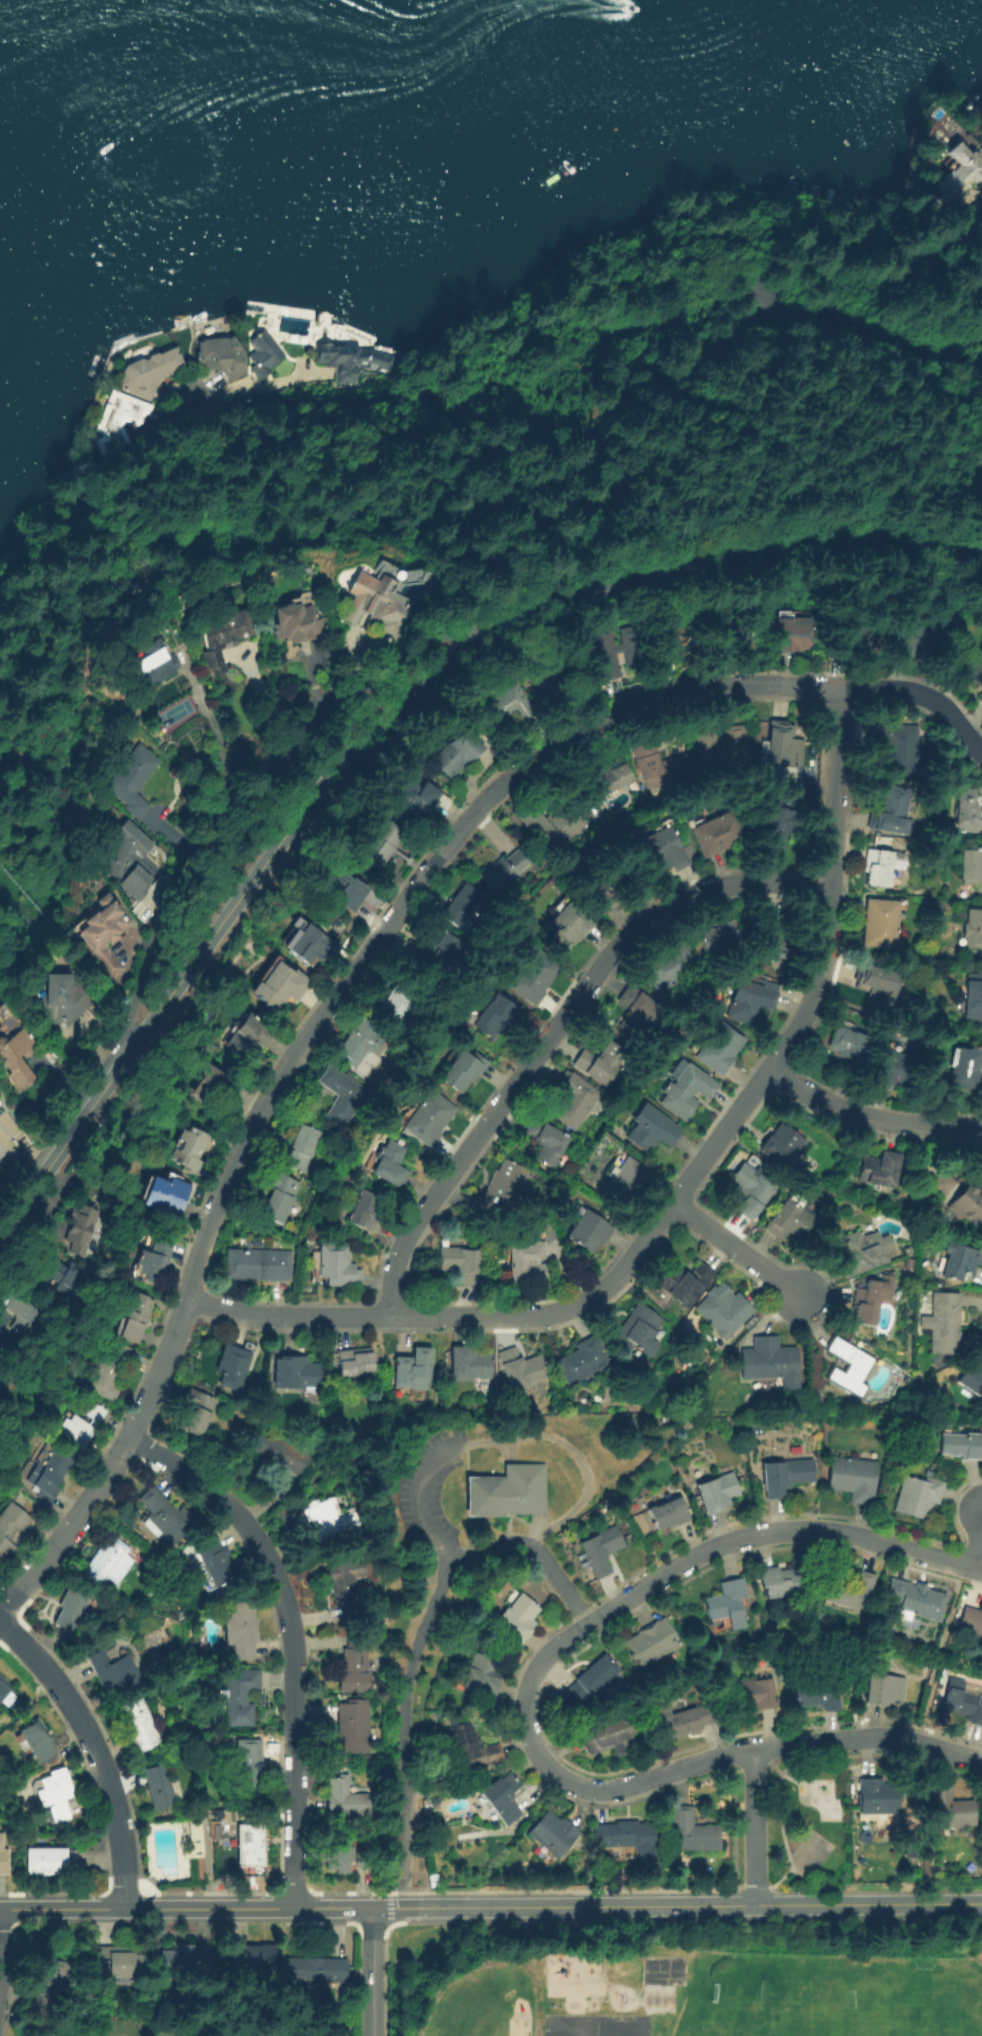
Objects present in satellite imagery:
building: (957, 177)
building: (275, 352)
building: (220, 356)
building: (353, 360)
road: (592, 363)
building: (149, 372)
park: (706, 391)
building: (121, 423)
building: (377, 604)
building: (295, 623)
building: (224, 633)
building: (793, 634)
building: (731, 635)
building: (668, 637)
building: (850, 640)
building: (910, 642)
building: (615, 652)
building: (151, 664)
building: (975, 669)
building: (550, 678)
road: (922, 695)
building: (980, 698)
road: (269, 704)
building: (509, 708)
park: (176, 715)
road: (384, 717)
building: (917, 719)
road: (211, 730)
building: (783, 745)
building: (721, 747)
building: (897, 748)
building: (458, 754)
building: (660, 766)
building: (608, 778)
building: (131, 780)
road: (838, 784)
road: (244, 790)
building: (415, 798)
building: (643, 805)
building: (890, 810)
building: (966, 813)
building: (553, 826)
building: (778, 827)
building: (718, 834)
building: (382, 845)
building: (664, 850)
building: (129, 857)
building: (970, 866)
building: (878, 868)
building: (503, 871)
building: (344, 889)
building: (604, 892)
building: (462, 904)
building: (880, 924)
building: (569, 925)
building: (973, 929)
building: (101, 937)
building: (718, 937)
building: (768, 937)
building: (62, 939)
road: (379, 940)
building: (305, 945)
building: (436, 956)
building: (669, 968)
building: (755, 970)
building: (534, 976)
building: (877, 985)
building: (279, 987)
building: (973, 997)
building: (59, 998)
building: (749, 999)
building: (396, 1004)
building: (2, 1013)
building: (636, 1013)
building: (494, 1017)
road: (560, 1030)
building: (248, 1035)
building: (359, 1043)
building: (720, 1049)
building: (851, 1050)
building: (12, 1057)
building: (601, 1064)
building: (966, 1069)
building: (463, 1070)
building: (896, 1070)
building: (212, 1087)
building: (687, 1092)
building: (342, 1095)
building: (574, 1100)
road: (871, 1114)
building: (429, 1118)
building: (652, 1129)
building: (547, 1142)
building: (781, 1146)
building: (299, 1148)
building: (188, 1149)
building: (391, 1165)
building: (878, 1170)
building: (940, 1184)
building: (627, 1185)
building: (393, 1189)
building: (499, 1190)
building: (751, 1190)
building: (164, 1195)
building: (279, 1197)
building: (968, 1205)
building: (364, 1211)
building: (791, 1222)
building: (80, 1232)
building: (589, 1232)
building: (254, 1241)
road: (739, 1248)
building: (908, 1251)
building: (864, 1252)
building: (154, 1260)
building: (524, 1261)
building: (958, 1261)
building: (461, 1263)
building: (258, 1265)
building: (337, 1266)
road: (621, 1267)
building: (61, 1276)
building: (685, 1284)
building: (871, 1303)
building: (724, 1313)
building: (23, 1315)
building: (135, 1318)
building: (943, 1323)
building: (639, 1331)
building: (583, 1361)
building: (355, 1362)
building: (770, 1362)
building: (470, 1364)
building: (231, 1366)
building: (848, 1367)
building: (413, 1369)
building: (521, 1370)
building: (108, 1371)
building: (274, 1372)
building: (298, 1373)
building: (905, 1380)
building: (971, 1380)
building: (195, 1412)
building: (80, 1427)
road: (513, 1440)
building: (961, 1446)
building: (280, 1453)
building: (48, 1473)
building: (781, 1477)
building: (853, 1479)
building: (718, 1492)
building: (501, 1496)
building: (918, 1496)
building: (669, 1514)
building: (164, 1517)
building: (330, 1518)
road: (70, 1525)
building: (10, 1528)
road: (976, 1548)
building: (602, 1550)
building: (109, 1563)
building: (215, 1563)
building: (780, 1582)
building: (348, 1587)
building: (846, 1589)
building: (914, 1601)
building: (727, 1604)
building: (72, 1610)
building: (518, 1619)
building: (971, 1621)
building: (240, 1629)
road: (292, 1636)
road: (943, 1640)
building: (651, 1642)
road: (421, 1645)
building: (354, 1665)
building: (114, 1672)
building: (482, 1674)
building: (590, 1682)
building: (3, 1688)
building: (884, 1690)
building: (758, 1692)
building: (819, 1693)
building: (239, 1696)
road: (524, 1698)
building: (964, 1704)
building: (688, 1719)
building: (353, 1724)
building: (139, 1727)
building: (610, 1737)
building: (34, 1743)
road: (95, 1750)
building: (471, 1750)
building: (248, 1764)
building: (161, 1786)
building: (437, 1788)
building: (56, 1795)
building: (502, 1798)
building: (877, 1798)
building: (346, 1799)
building: (950, 1809)
park: (809, 1823)
road: (753, 1827)
building: (692, 1832)
building: (554, 1834)
building: (625, 1836)
building: (193, 1841)
building: (251, 1850)
building: (338, 1855)
building: (365, 1857)
building: (2, 1860)
building: (50, 1862)
road: (867, 1903)
road: (522, 1905)
road: (145, 1908)
road: (0, 1939)
building: (253, 1958)
building: (117, 1961)
building: (183, 1962)
road: (488, 1962)
building: (316, 1970)
park: (666, 1971)
road: (371, 1972)
building: (49, 1974)
building: (43, 2003)
park: (839, 2006)
park: (598, 2025)

